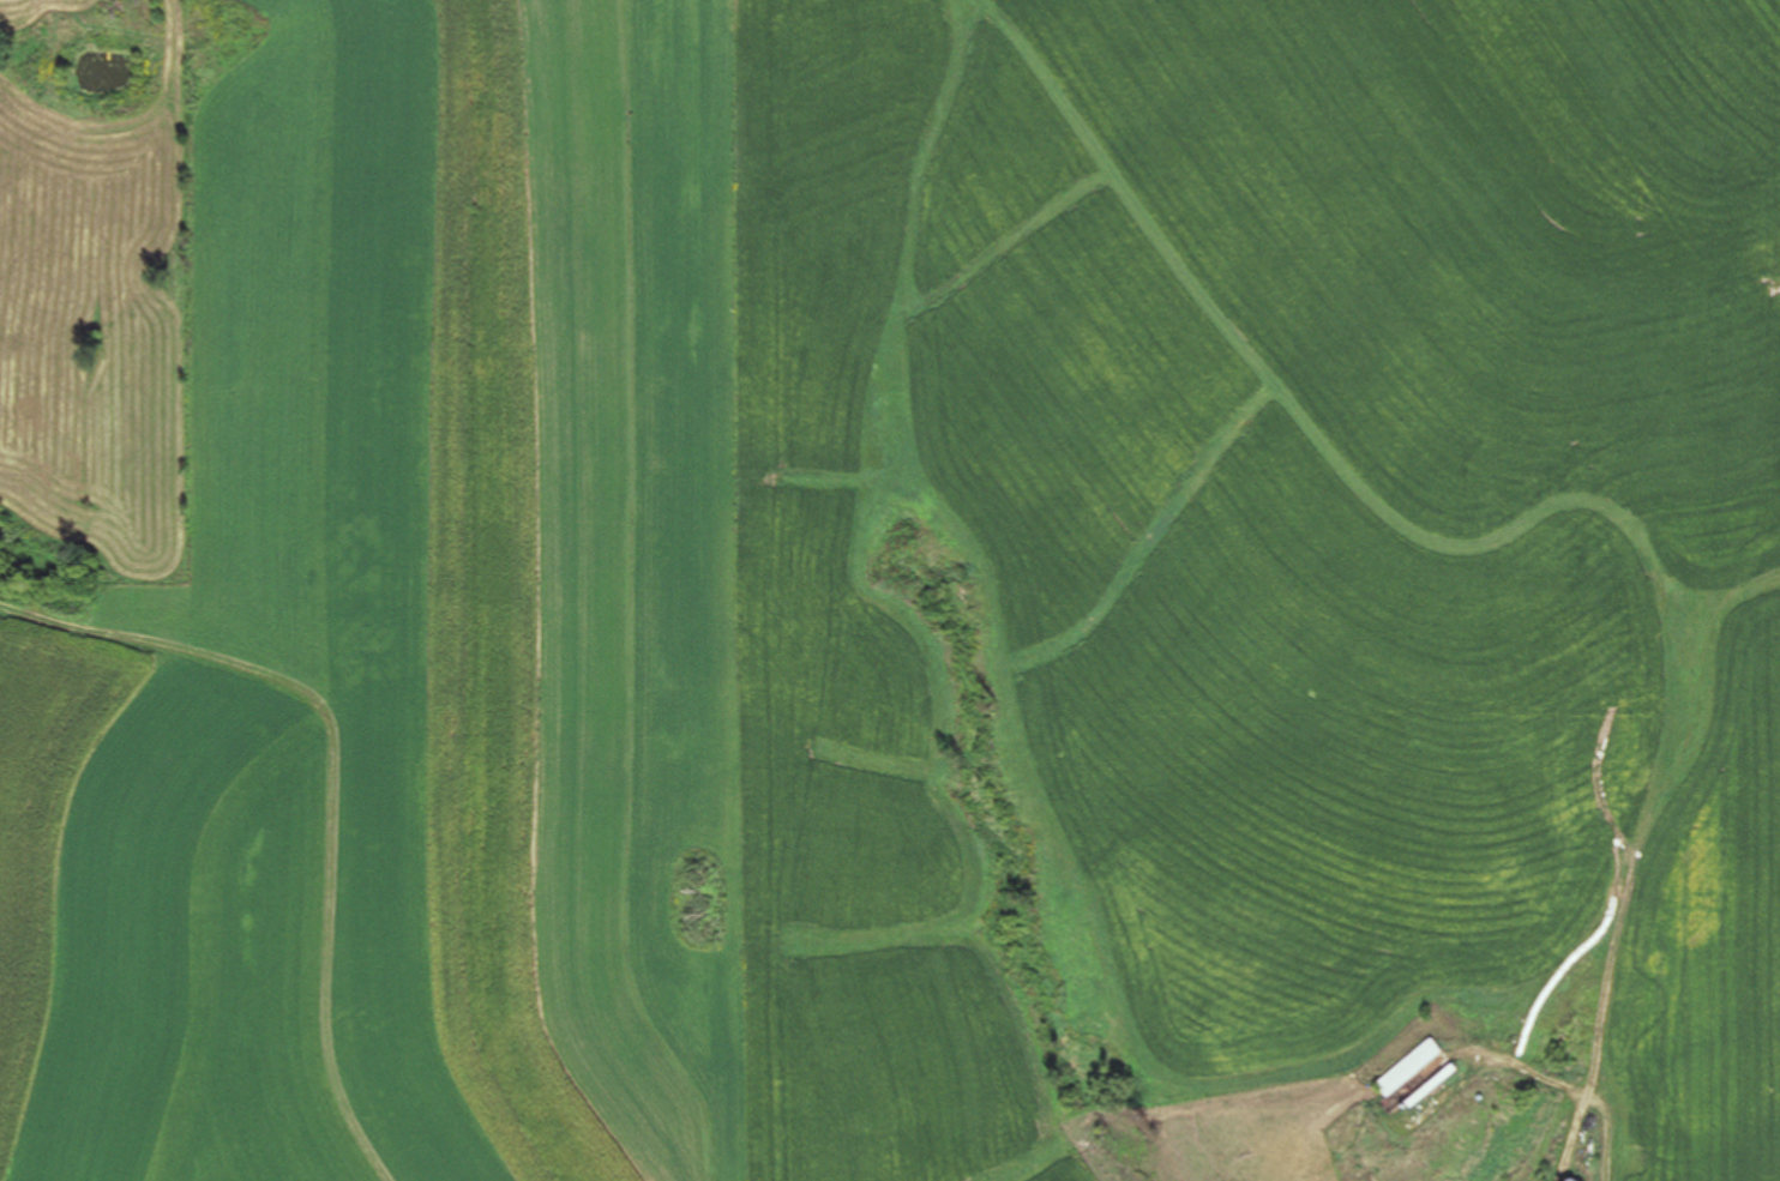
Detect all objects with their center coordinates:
building: (1415, 1067)
building: (1438, 1080)

